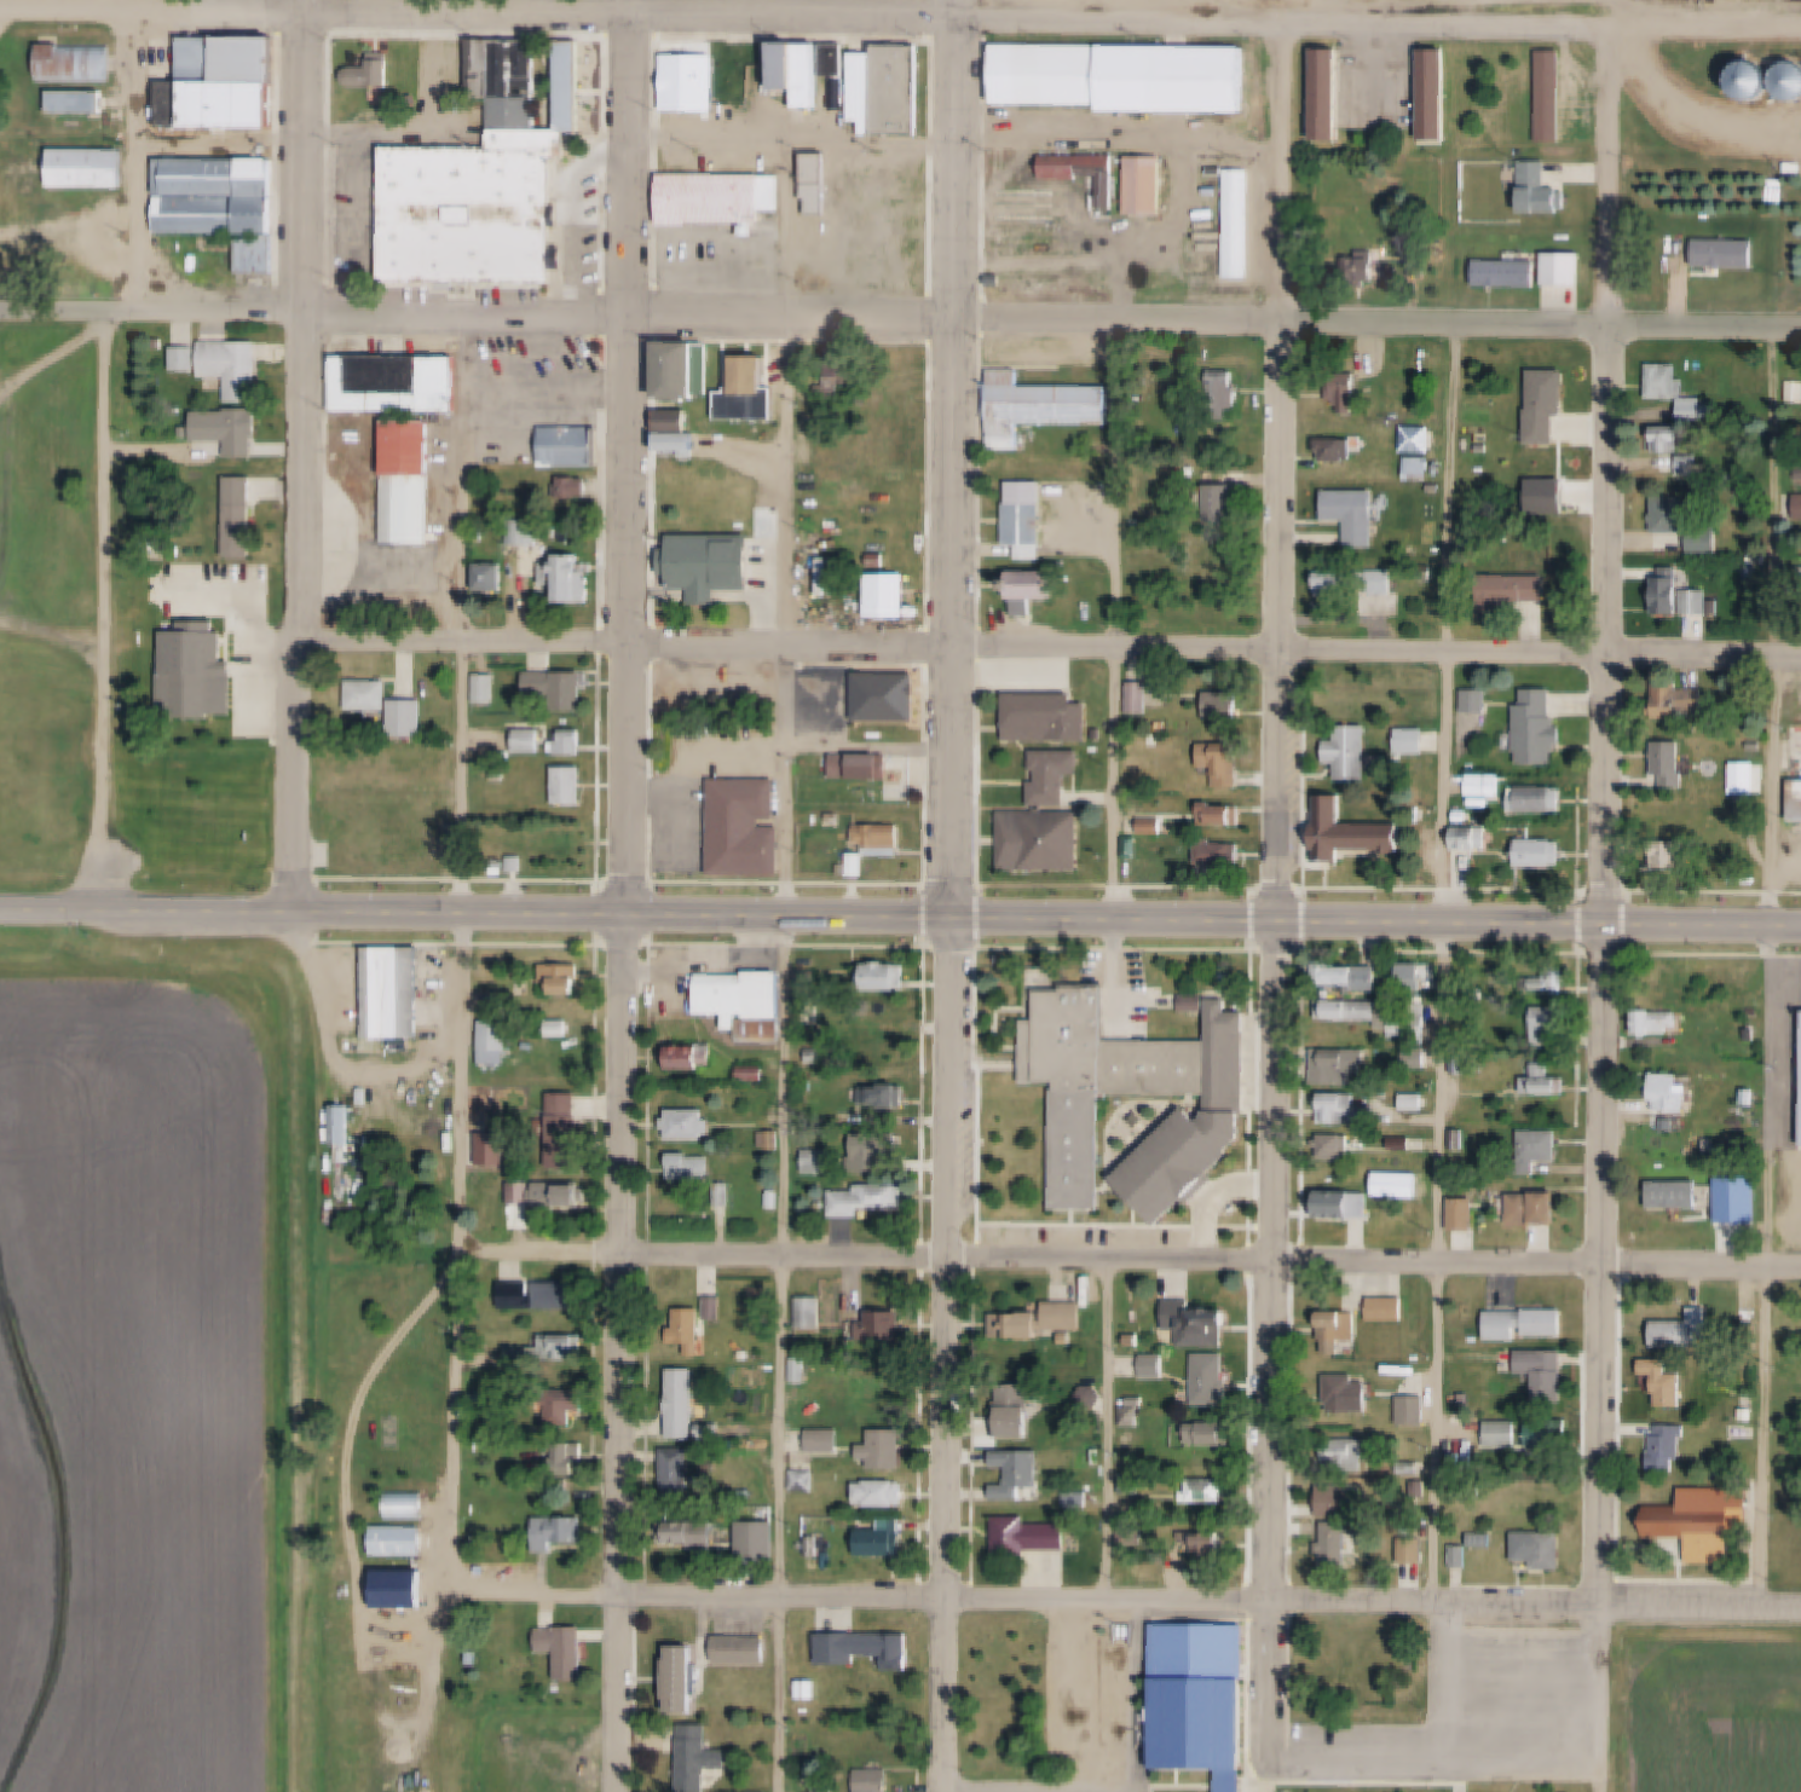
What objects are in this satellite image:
building: (1104, 1)
road: (635, 10)
road: (152, 15)
road: (469, 18)
road: (795, 21)
road: (1378, 27)
building: (236, 60)
building: (836, 60)
building: (483, 64)
building: (74, 65)
building: (786, 65)
building: (439, 70)
building: (374, 74)
building: (810, 76)
building: (1124, 76)
building: (1750, 80)
silo: (1750, 80)
building: (1791, 80)
silo: (1791, 80)
building: (516, 86)
building: (573, 86)
building: (889, 89)
building: (1435, 94)
building: (1328, 96)
building: (1551, 97)
building: (79, 103)
building: (177, 104)
building: (238, 104)
road: (1691, 110)
building: (710, 121)
road: (633, 167)
building: (91, 169)
building: (1084, 172)
road: (1283, 174)
building: (219, 178)
road: (1612, 179)
building: (819, 184)
building: (1147, 185)
building: (1542, 190)
building: (723, 197)
building: (478, 210)
building: (220, 215)
building: (1239, 224)
building: (62, 244)
building: (259, 254)
building: (1420, 265)
building: (1367, 266)
building: (1566, 268)
building: (1511, 272)
road: (316, 311)
road: (1216, 322)
road: (57, 357)
building: (845, 362)
building: (235, 368)
building: (683, 370)
building: (758, 374)
building: (397, 385)
building: (1352, 388)
building: (835, 391)
building: (1674, 391)
building: (1225, 392)
building: (1794, 392)
building: (1551, 404)
building: (746, 405)
building: (1040, 405)
building: (681, 421)
building: (246, 432)
building: (1419, 439)
building: (1670, 439)
building: (683, 443)
building: (571, 447)
road: (300, 458)
building: (1690, 466)
building: (1421, 467)
building: (411, 480)
building: (579, 486)
building: (1225, 504)
building: (1800, 513)
building: (1361, 515)
building: (1673, 515)
building: (242, 518)
building: (1471, 524)
building: (1031, 528)
building: (527, 532)
building: (1708, 541)
building: (1482, 545)
building: (860, 548)
building: (151, 554)
building: (881, 560)
building: (715, 563)
building: (1749, 572)
building: (493, 576)
building: (1799, 578)
building: (567, 579)
building: (1387, 583)
building: (1341, 584)
building: (1038, 589)
building: (1514, 592)
building: (1680, 595)
building: (896, 596)
road: (106, 611)
road: (628, 617)
road: (1122, 622)
road: (52, 634)
road: (463, 643)
road: (1214, 651)
building: (198, 675)
building: (487, 689)
building: (561, 689)
building: (890, 694)
building: (373, 695)
building: (1142, 698)
building: (1479, 701)
building: (1680, 704)
building: (1225, 706)
building: (410, 717)
building: (1049, 717)
building: (1166, 726)
building: (1172, 726)
building: (1542, 729)
building: (1101, 734)
building: (1413, 739)
building: (531, 742)
building: (573, 742)
building: (836, 748)
building: (1353, 752)
building: (1224, 763)
building: (1670, 764)
building: (864, 767)
building: (1058, 775)
building: (1796, 775)
building: (572, 786)
building: (1483, 787)
building: (1545, 800)
building: (1749, 813)
building: (1223, 814)
building: (809, 819)
building: (835, 819)
building: (821, 820)
building: (1155, 825)
building: (750, 826)
building: (1352, 832)
building: (882, 834)
building: (1467, 839)
building: (1045, 840)
building: (1135, 846)
building: (1542, 854)
building: (1675, 854)
building: (1222, 855)
road: (951, 896)
road: (312, 918)
road: (1212, 925)
road: (1276, 961)
road: (1447, 964)
road: (1609, 966)
road: (1777, 969)
building: (566, 977)
building: (888, 977)
building: (1351, 977)
building: (813, 981)
building: (1553, 982)
building: (393, 992)
building: (745, 994)
building: (1356, 1010)
building: (1755, 1013)
building: (1554, 1021)
building: (1659, 1023)
building: (1410, 1025)
building: (561, 1028)
building: (1751, 1036)
building: (496, 1042)
building: (826, 1056)
building: (689, 1057)
building: (1464, 1063)
building: (1341, 1065)
building: (755, 1073)
building: (1543, 1081)
building: (1667, 1093)
building: (891, 1096)
building: (1414, 1103)
building: (1085, 1109)
building: (1350, 1110)
building: (345, 1125)
building: (691, 1125)
building: (570, 1133)
building: (773, 1139)
building: (1459, 1141)
building: (481, 1143)
building: (1403, 1145)
building: (1338, 1146)
building: (879, 1151)
building: (1540, 1151)
building: (821, 1162)
building: (693, 1168)
building: (1401, 1186)
building: (523, 1193)
building: (564, 1193)
building: (1676, 1195)
building: (777, 1198)
building: (870, 1200)
building: (1347, 1206)
building: (1540, 1209)
building: (1468, 1216)
road: (542, 1250)
road: (1211, 1260)
building: (1138, 1289)
building: (546, 1295)
building: (766, 1302)
building: (718, 1308)
building: (1389, 1310)
building: (813, 1314)
building: (1046, 1323)
building: (1200, 1324)
building: (1529, 1325)
building: (889, 1328)
road: (462, 1330)
building: (691, 1330)
building: (1339, 1330)
building: (1685, 1331)
building: (1137, 1342)
building: (564, 1347)
building: (525, 1355)
road: (622, 1355)
road: (787, 1357)
building: (1158, 1366)
building: (802, 1370)
building: (1547, 1374)
building: (1216, 1381)
building: (1667, 1383)
building: (890, 1397)
building: (1351, 1397)
building: (483, 1404)
building: (687, 1404)
building: (568, 1405)
building: (1021, 1411)
building: (1415, 1411)
building: (1137, 1417)
road: (1110, 1429)
building: (715, 1430)
building: (1549, 1434)
building: (1212, 1435)
building: (829, 1440)
building: (890, 1449)
building: (1668, 1450)
building: (1799, 1450)
building: (1350, 1455)
building: (566, 1458)
building: (1459, 1463)
building: (1023, 1468)
building: (1415, 1469)
building: (680, 1470)
building: (808, 1481)
building: (1139, 1485)
building: (1212, 1491)
building: (1419, 1492)
building: (887, 1493)
building: (1081, 1498)
building: (1344, 1502)
building: (1552, 1502)
building: (408, 1505)
building: (1708, 1521)
building: (560, 1532)
building: (693, 1533)
building: (1133, 1534)
building: (1031, 1537)
building: (887, 1539)
building: (1488, 1539)
building: (400, 1540)
building: (1211, 1544)
building: (1339, 1544)
building: (816, 1547)
building: (832, 1547)
building: (760, 1550)
building: (1415, 1550)
building: (1548, 1551)
building: (1464, 1557)
road: (1212, 1601)
building: (568, 1649)
building: (868, 1649)
building: (743, 1652)
building: (1338, 1669)
building: (686, 1680)
road: (1276, 1680)
road: (1603, 1699)
building: (1206, 1701)
building: (810, 1755)
building: (994, 1757)
building: (702, 1758)
building: (877, 1781)
building: (827, 1791)

